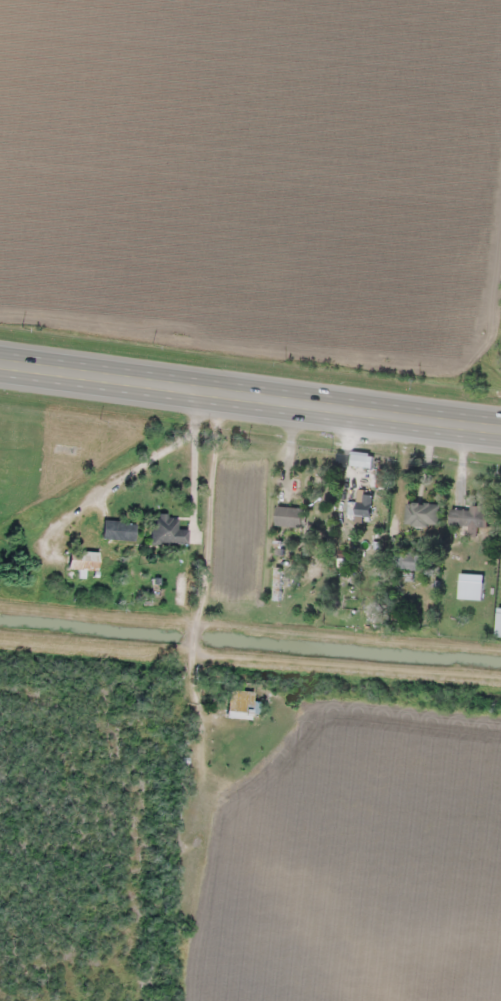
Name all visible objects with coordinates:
road: (250, 396)
building: (360, 507)
building: (421, 514)
building: (287, 516)
building: (469, 518)
building: (119, 530)
building: (167, 531)
building: (339, 557)
building: (82, 561)
building: (406, 561)
building: (239, 704)

